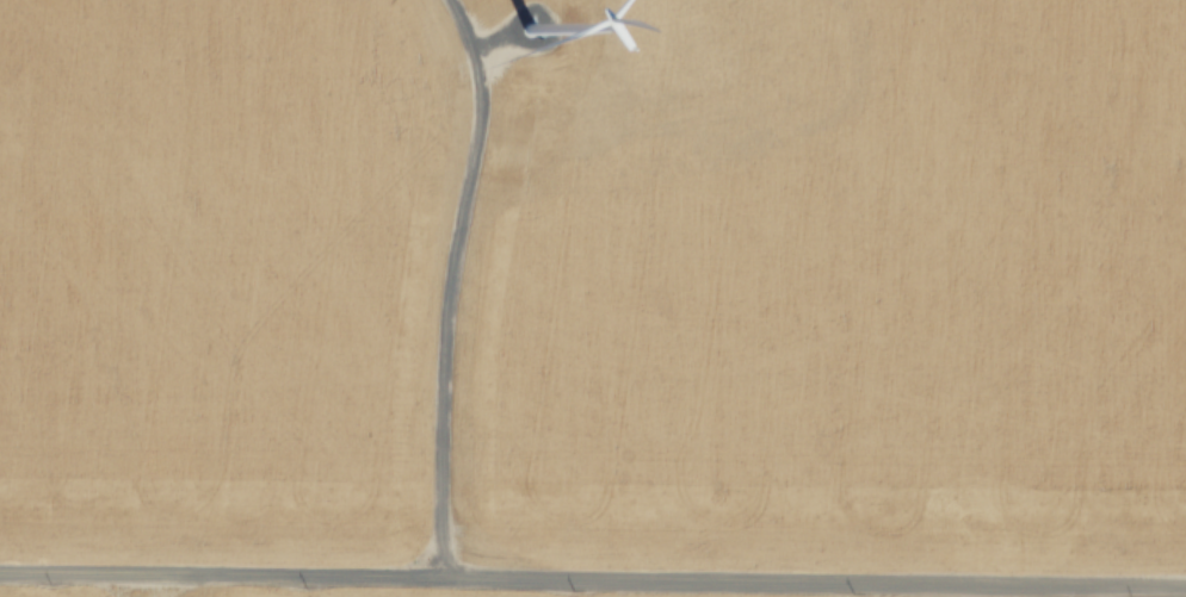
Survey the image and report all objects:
wind turbine: (524, 29)
road: (444, 286)
road: (592, 583)

